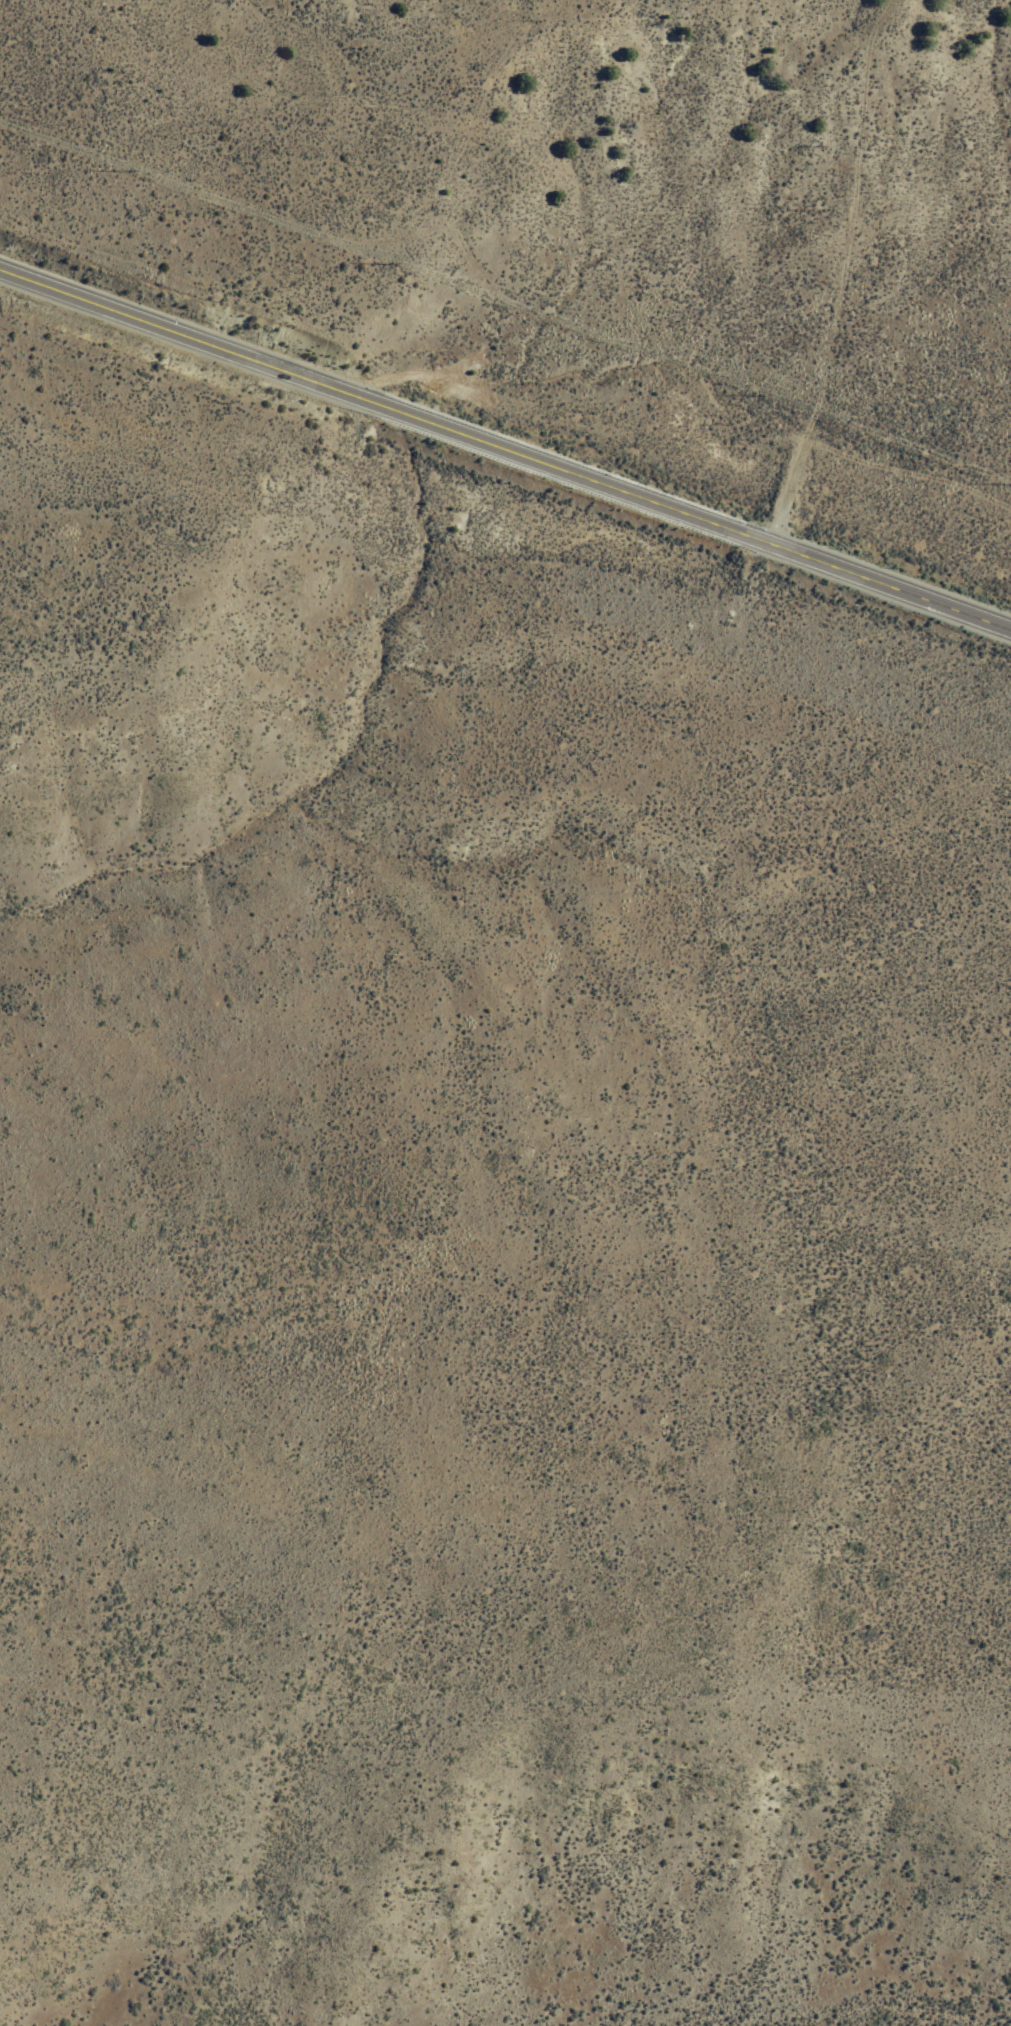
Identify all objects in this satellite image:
crop: (964, 429)
road: (505, 447)

